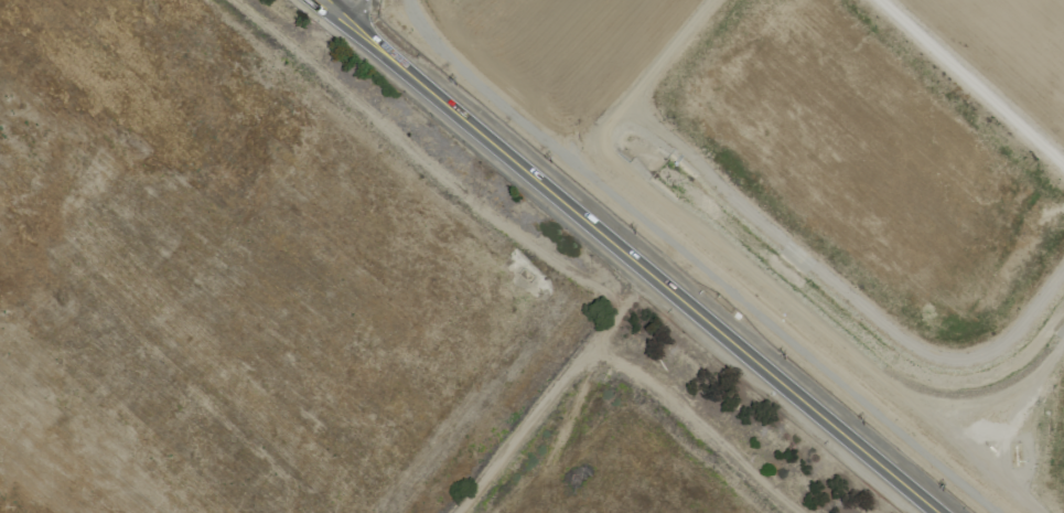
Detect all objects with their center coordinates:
road: (355, 10)
road: (522, 165)
crop: (322, 301)
road: (826, 420)
road: (935, 511)

